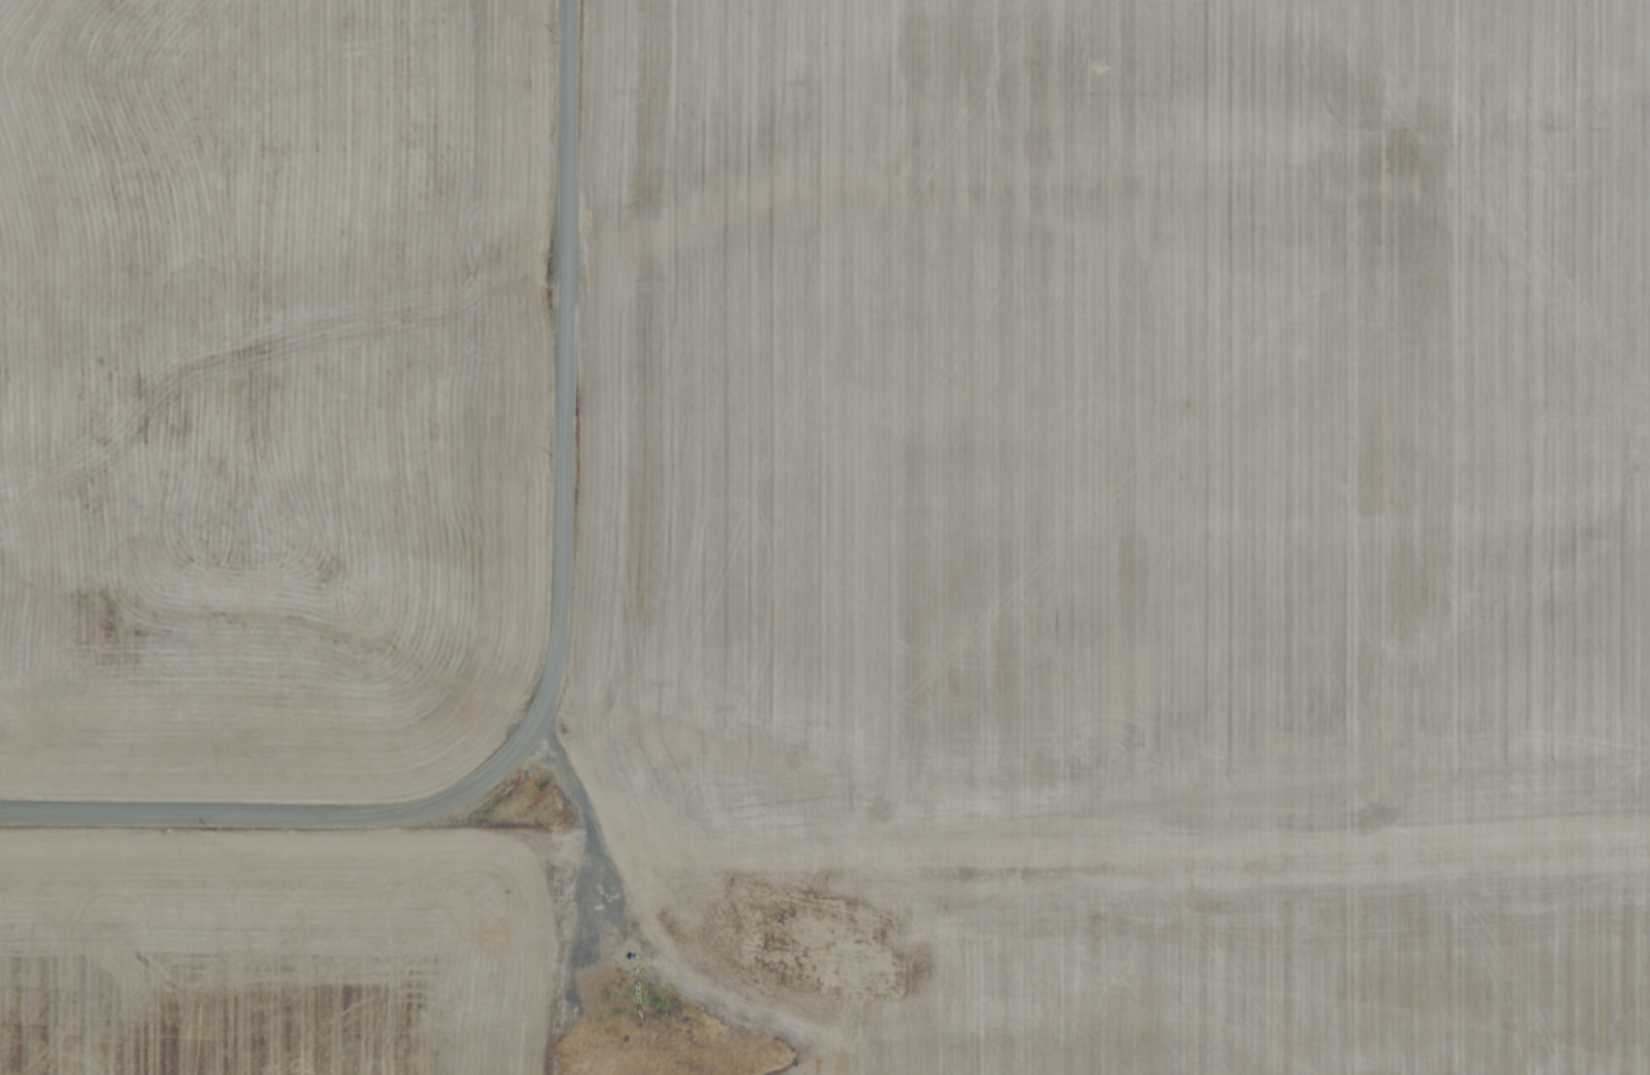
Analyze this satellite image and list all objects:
road: (568, 385)
road: (268, 830)

